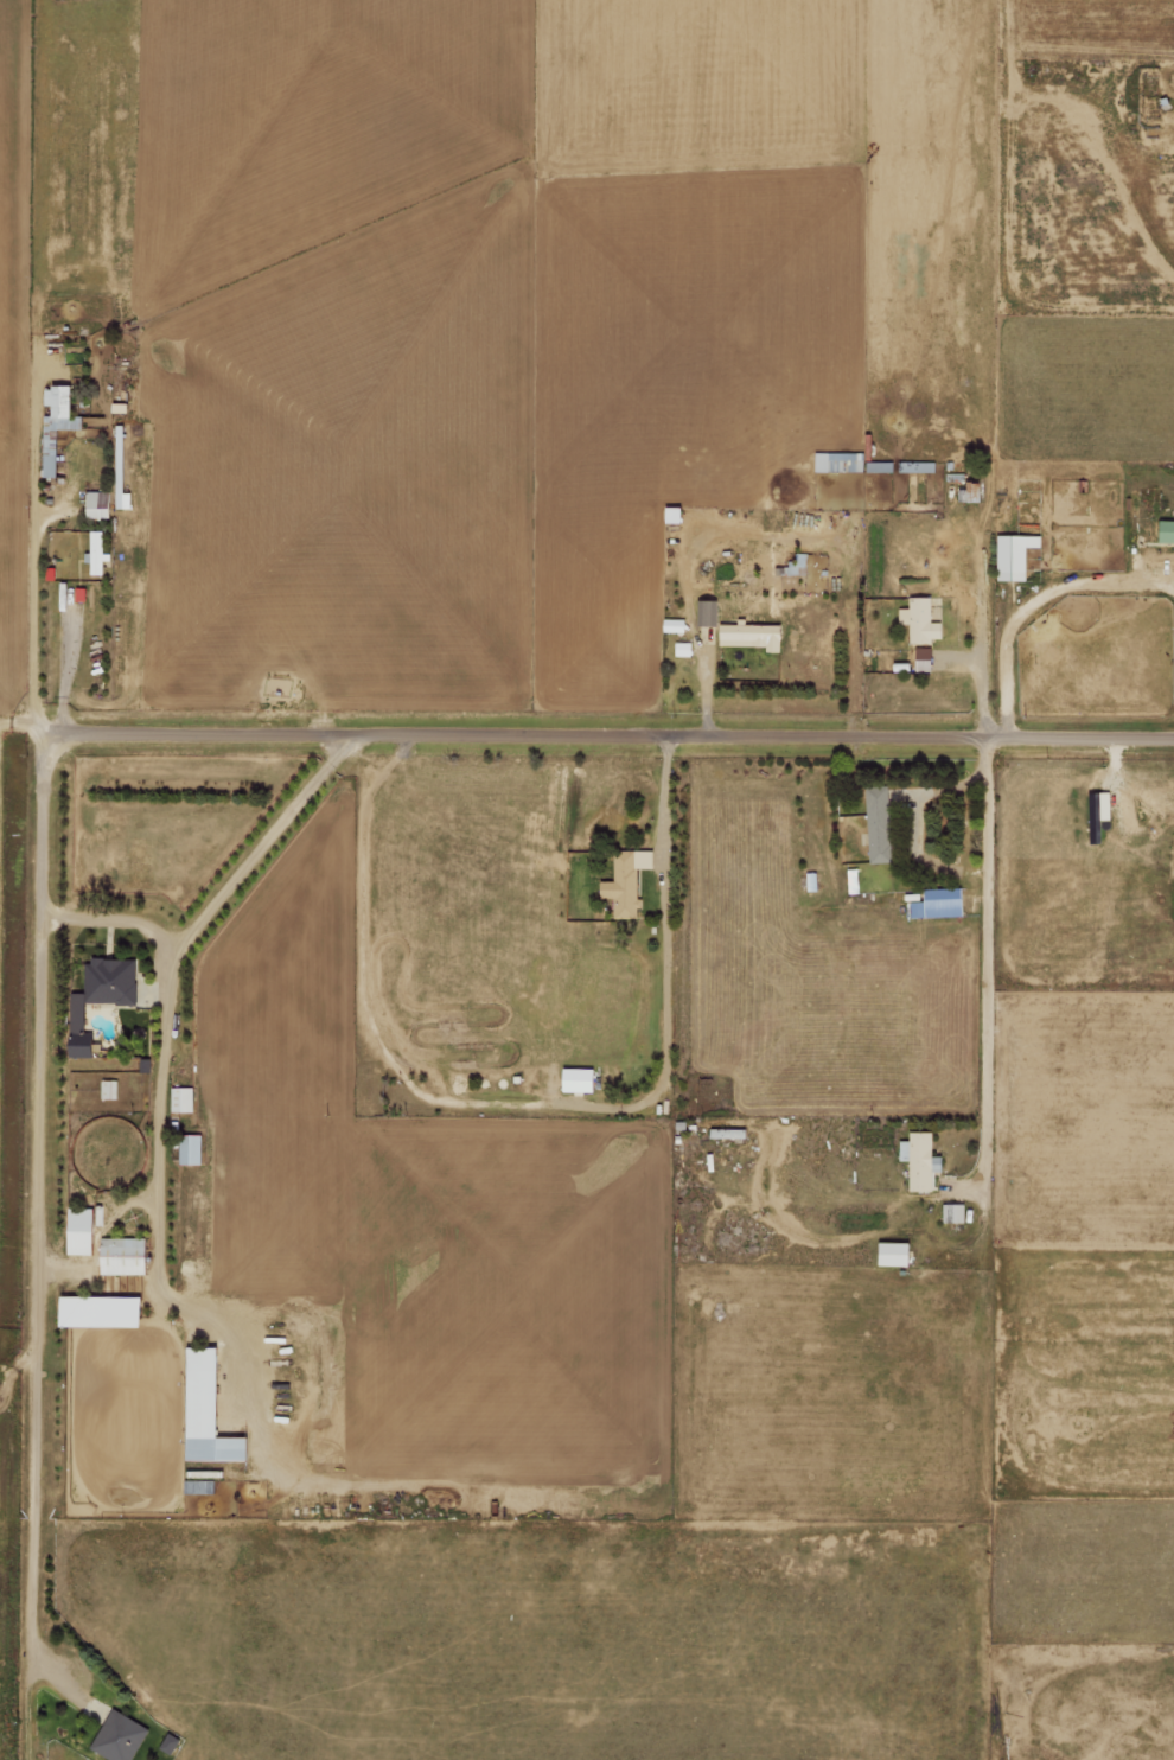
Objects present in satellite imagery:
building: (57, 423)
building: (840, 460)
building: (122, 496)
building: (98, 504)
building: (675, 514)
building: (1167, 530)
building: (97, 550)
building: (1015, 555)
building: (797, 563)
building: (708, 612)
building: (921, 619)
building: (675, 624)
building: (753, 635)
building: (682, 649)
building: (924, 658)
road: (607, 732)
building: (879, 823)
building: (1097, 827)
building: (627, 880)
building: (940, 903)
road: (110, 919)
building: (101, 997)
building: (580, 1079)
building: (108, 1089)
building: (180, 1098)
road: (155, 1105)
building: (190, 1148)
building: (921, 1159)
building: (955, 1212)
building: (81, 1230)
road: (34, 1246)
building: (897, 1254)
building: (123, 1255)
building: (102, 1311)
building: (208, 1410)
building: (119, 1736)

